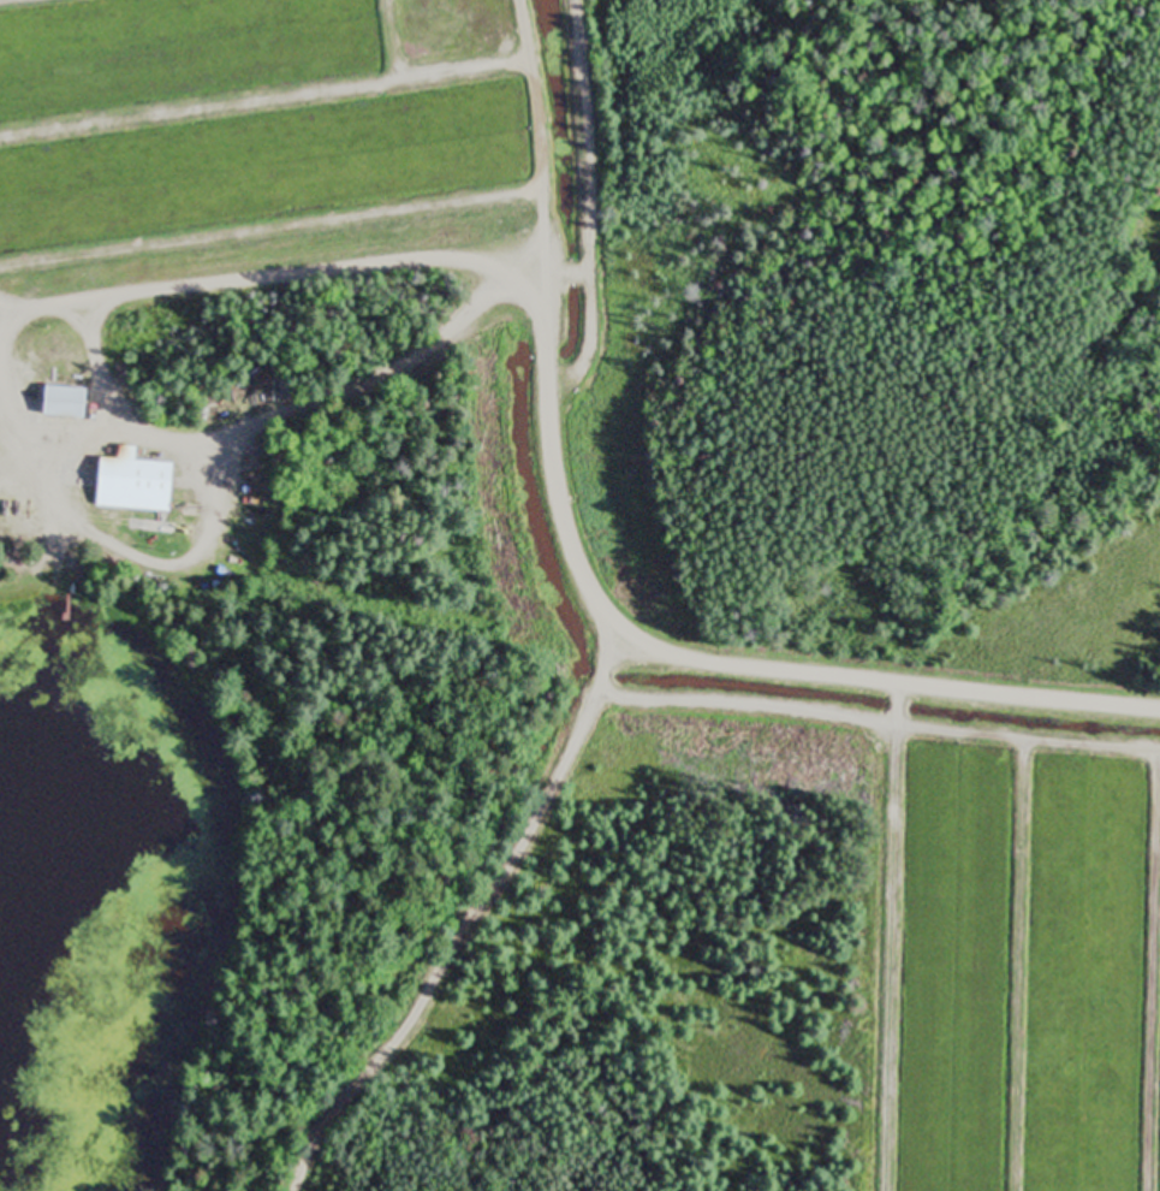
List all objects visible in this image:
crop: (244, 111)
building: (65, 403)
building: (133, 482)
road: (590, 589)
crop: (1027, 971)

